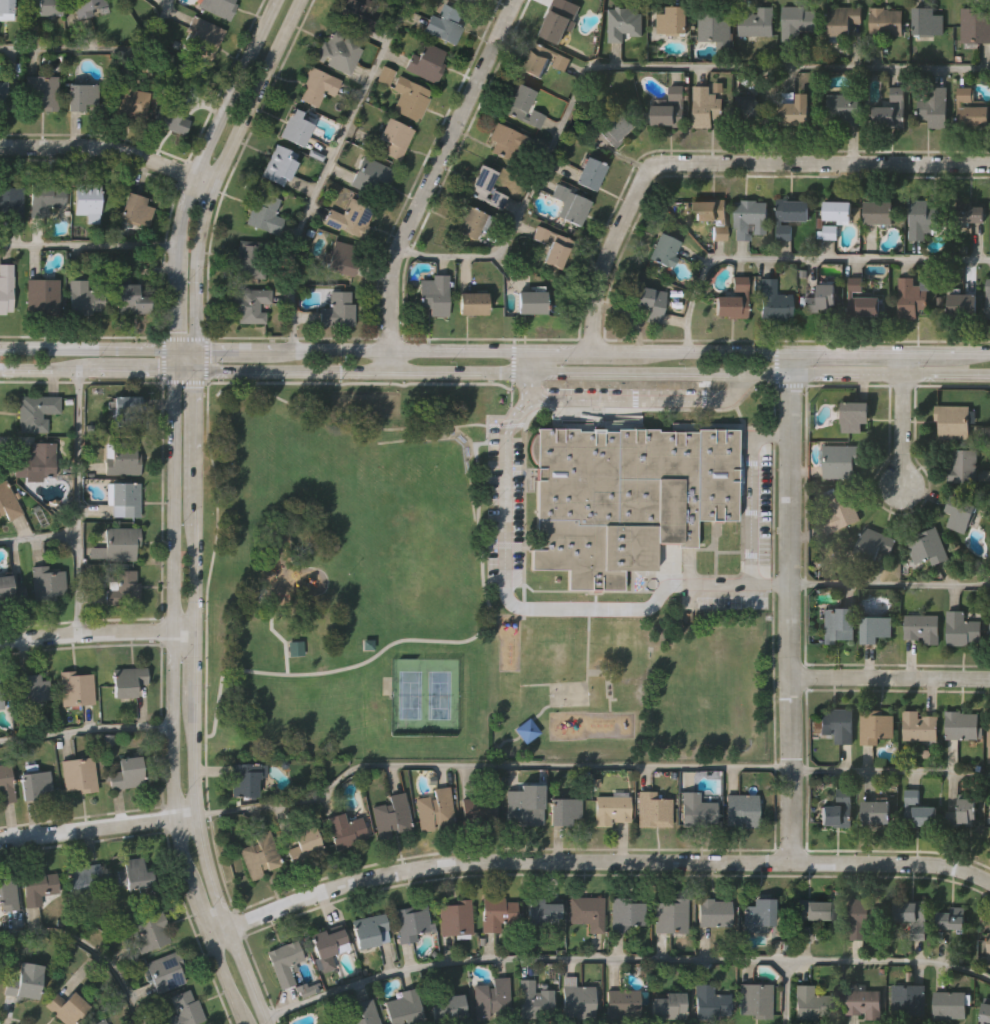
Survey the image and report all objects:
building: (464, 1)
building: (469, 1)
building: (83, 6)
building: (47, 7)
building: (219, 7)
building: (6, 8)
building: (353, 14)
building: (670, 20)
building: (842, 20)
building: (887, 20)
building: (927, 20)
building: (798, 21)
building: (446, 23)
building: (756, 23)
building: (623, 25)
building: (975, 25)
building: (555, 28)
building: (713, 28)
building: (204, 35)
road: (101, 50)
building: (337, 51)
building: (426, 60)
building: (544, 60)
road: (636, 68)
building: (314, 86)
building: (43, 90)
building: (79, 95)
building: (10, 97)
building: (409, 97)
building: (129, 98)
building: (523, 104)
building: (705, 106)
building: (844, 106)
building: (932, 106)
building: (795, 109)
building: (971, 109)
building: (749, 110)
building: (670, 111)
building: (892, 112)
building: (171, 115)
building: (296, 126)
building: (612, 128)
building: (394, 136)
building: (508, 140)
road: (108, 150)
building: (276, 164)
road: (327, 169)
road: (724, 170)
building: (590, 171)
building: (371, 175)
road: (194, 176)
road: (214, 176)
road: (430, 180)
building: (484, 185)
building: (45, 196)
building: (11, 198)
building: (86, 199)
building: (570, 202)
building: (135, 208)
building: (838, 208)
building: (971, 210)
building: (880, 211)
building: (261, 212)
building: (714, 215)
building: (348, 216)
building: (790, 216)
building: (749, 217)
building: (924, 218)
building: (471, 220)
building: (826, 229)
building: (552, 245)
road: (89, 246)
building: (663, 248)
building: (253, 257)
building: (340, 257)
road: (804, 260)
building: (5, 288)
building: (435, 294)
building: (43, 295)
building: (86, 297)
building: (910, 297)
building: (130, 298)
building: (821, 298)
building: (861, 298)
building: (988, 298)
building: (731, 300)
building: (532, 301)
building: (771, 302)
building: (471, 303)
building: (646, 303)
building: (249, 304)
building: (962, 304)
building: (337, 309)
road: (195, 349)
road: (461, 350)
road: (944, 350)
road: (843, 351)
road: (609, 352)
road: (738, 352)
road: (531, 361)
road: (898, 361)
road: (789, 362)
road: (194, 369)
road: (460, 371)
road: (610, 372)
road: (739, 372)
road: (843, 372)
road: (944, 373)
road: (634, 400)
building: (125, 408)
building: (36, 412)
building: (854, 415)
building: (954, 421)
road: (899, 429)
building: (124, 458)
building: (38, 459)
building: (841, 460)
building: (965, 465)
road: (504, 484)
building: (124, 496)
building: (626, 497)
building: (8, 501)
road: (79, 501)
building: (839, 509)
road: (749, 511)
building: (963, 514)
road: (39, 538)
building: (120, 544)
building: (873, 545)
building: (929, 547)
park: (342, 570)
building: (46, 582)
road: (889, 585)
building: (124, 586)
building: (11, 590)
road: (623, 607)
road: (789, 617)
building: (837, 624)
building: (875, 628)
building: (923, 629)
building: (961, 629)
road: (96, 632)
building: (296, 649)
road: (321, 673)
road: (889, 677)
building: (128, 681)
building: (33, 689)
building: (75, 689)
park: (410, 695)
park: (439, 695)
building: (1, 698)
road: (172, 702)
road: (192, 702)
building: (838, 725)
building: (920, 726)
building: (963, 726)
building: (876, 727)
building: (527, 729)
road: (85, 731)
building: (989, 743)
road: (486, 765)
building: (79, 771)
building: (128, 771)
road: (890, 772)
building: (245, 777)
building: (34, 781)
building: (6, 782)
building: (522, 805)
building: (434, 808)
building: (564, 808)
building: (611, 808)
building: (654, 808)
building: (695, 808)
building: (478, 809)
building: (743, 809)
building: (839, 809)
building: (877, 810)
building: (917, 811)
building: (964, 811)
building: (391, 814)
road: (97, 826)
building: (345, 829)
building: (305, 844)
building: (260, 853)
road: (594, 861)
building: (134, 872)
building: (80, 878)
building: (38, 885)
building: (8, 891)
building: (541, 909)
building: (758, 910)
building: (497, 911)
building: (588, 911)
building: (713, 911)
building: (626, 912)
building: (671, 914)
building: (807, 915)
building: (863, 917)
building: (912, 917)
building: (456, 918)
building: (951, 918)
building: (410, 920)
building: (150, 929)
building: (370, 929)
building: (989, 945)
building: (327, 946)
road: (88, 950)
building: (285, 960)
road: (623, 961)
building: (165, 972)
building: (25, 980)
road: (785, 992)
building: (491, 997)
building: (577, 998)
building: (755, 998)
building: (534, 1000)
building: (864, 1000)
building: (908, 1000)
building: (710, 1001)
building: (622, 1002)
building: (809, 1002)
building: (668, 1005)
building: (66, 1006)
building: (949, 1006)
building: (401, 1008)
building: (445, 1008)
building: (185, 1010)
building: (361, 1013)
building: (985, 1013)
building: (100, 1022)

